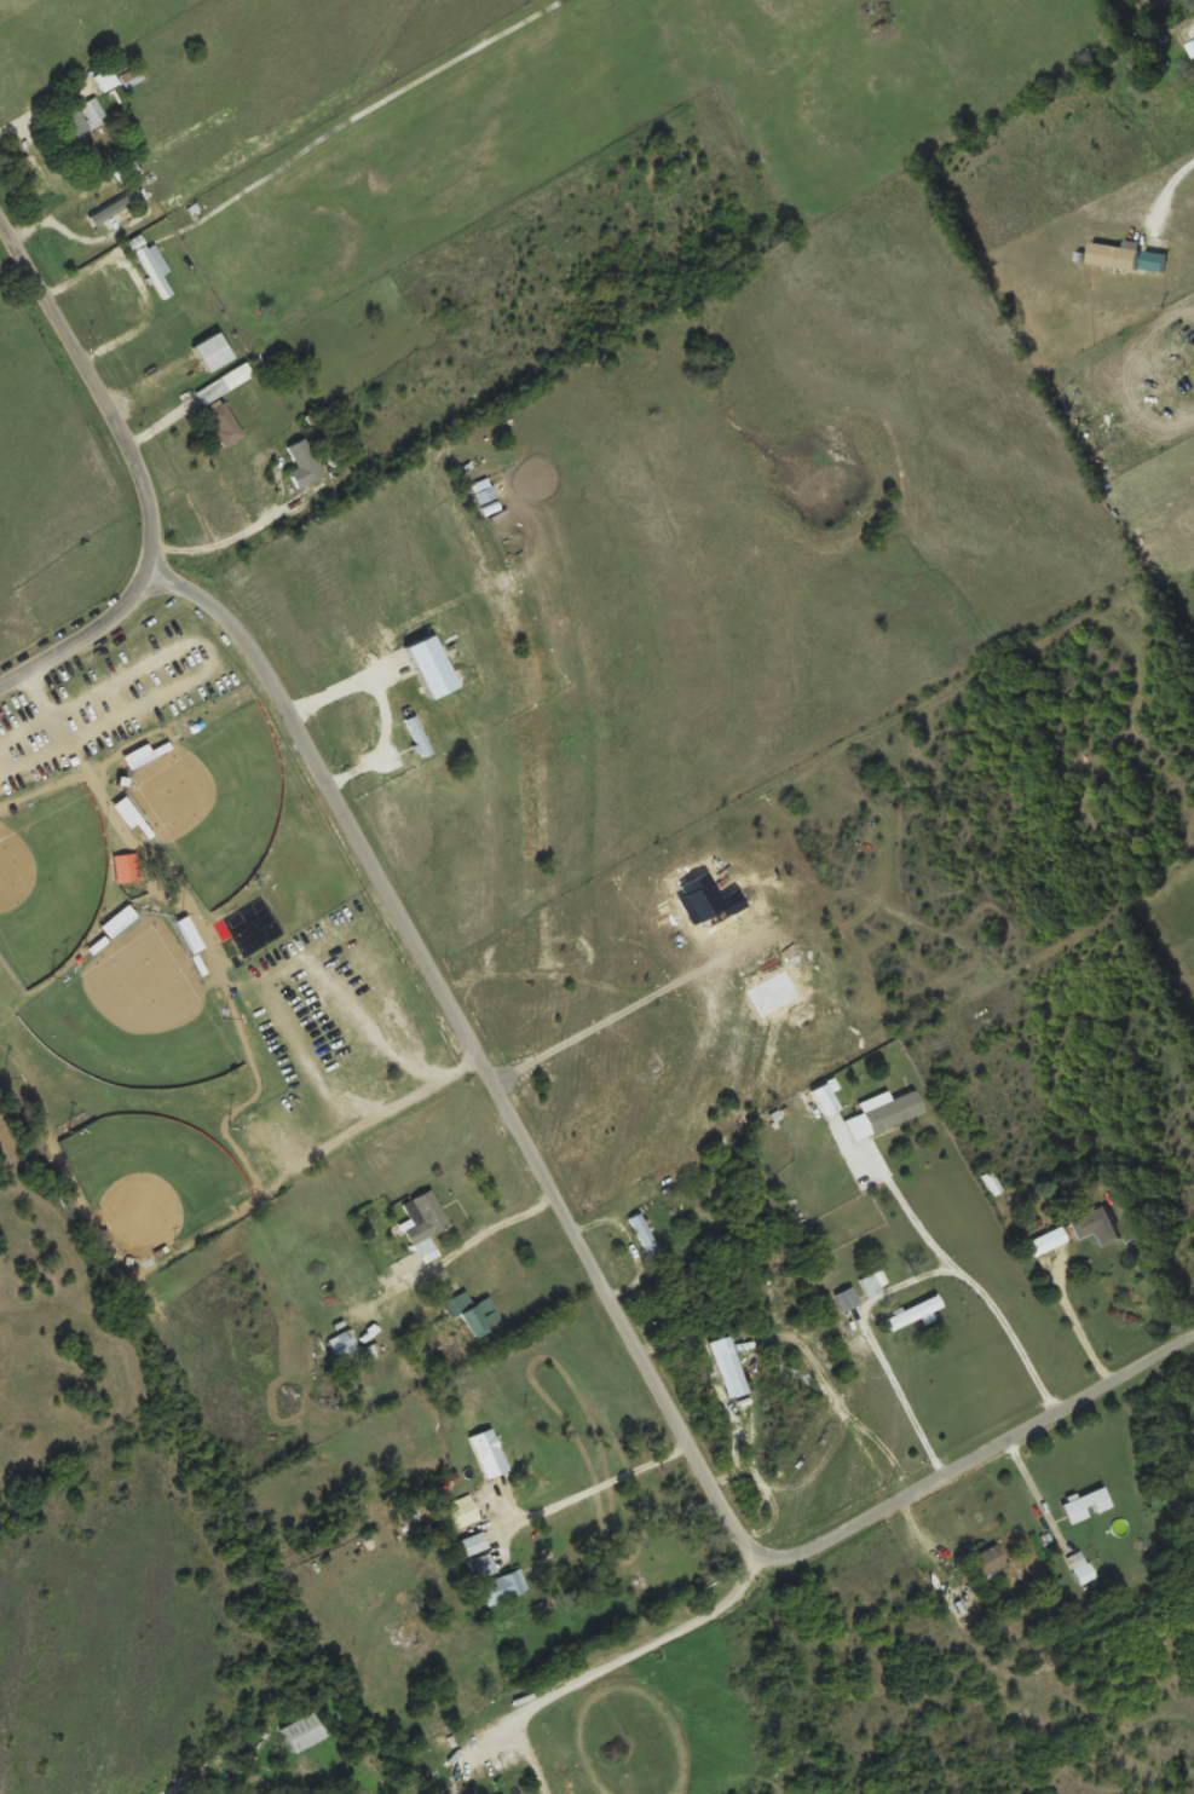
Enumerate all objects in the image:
building: (131, 76)
building: (106, 79)
building: (83, 123)
building: (1115, 253)
building: (1160, 260)
building: (154, 266)
building: (214, 351)
building: (225, 382)
building: (225, 422)
building: (305, 463)
road: (145, 475)
building: (484, 494)
building: (419, 736)
park: (224, 809)
building: (127, 867)
park: (56, 887)
park: (150, 1036)
road: (486, 1074)
building: (886, 1113)
road: (922, 1218)
building: (1096, 1225)
building: (422, 1230)
building: (647, 1240)
building: (875, 1281)
road: (917, 1291)
building: (848, 1298)
building: (913, 1311)
building: (478, 1313)
building: (347, 1343)
road: (1002, 1447)
building: (490, 1452)
road: (598, 1488)
building: (1083, 1500)
building: (460, 1512)
building: (474, 1542)
building: (987, 1561)
building: (484, 1564)
building: (1081, 1567)
building: (504, 1586)
building: (304, 1731)

